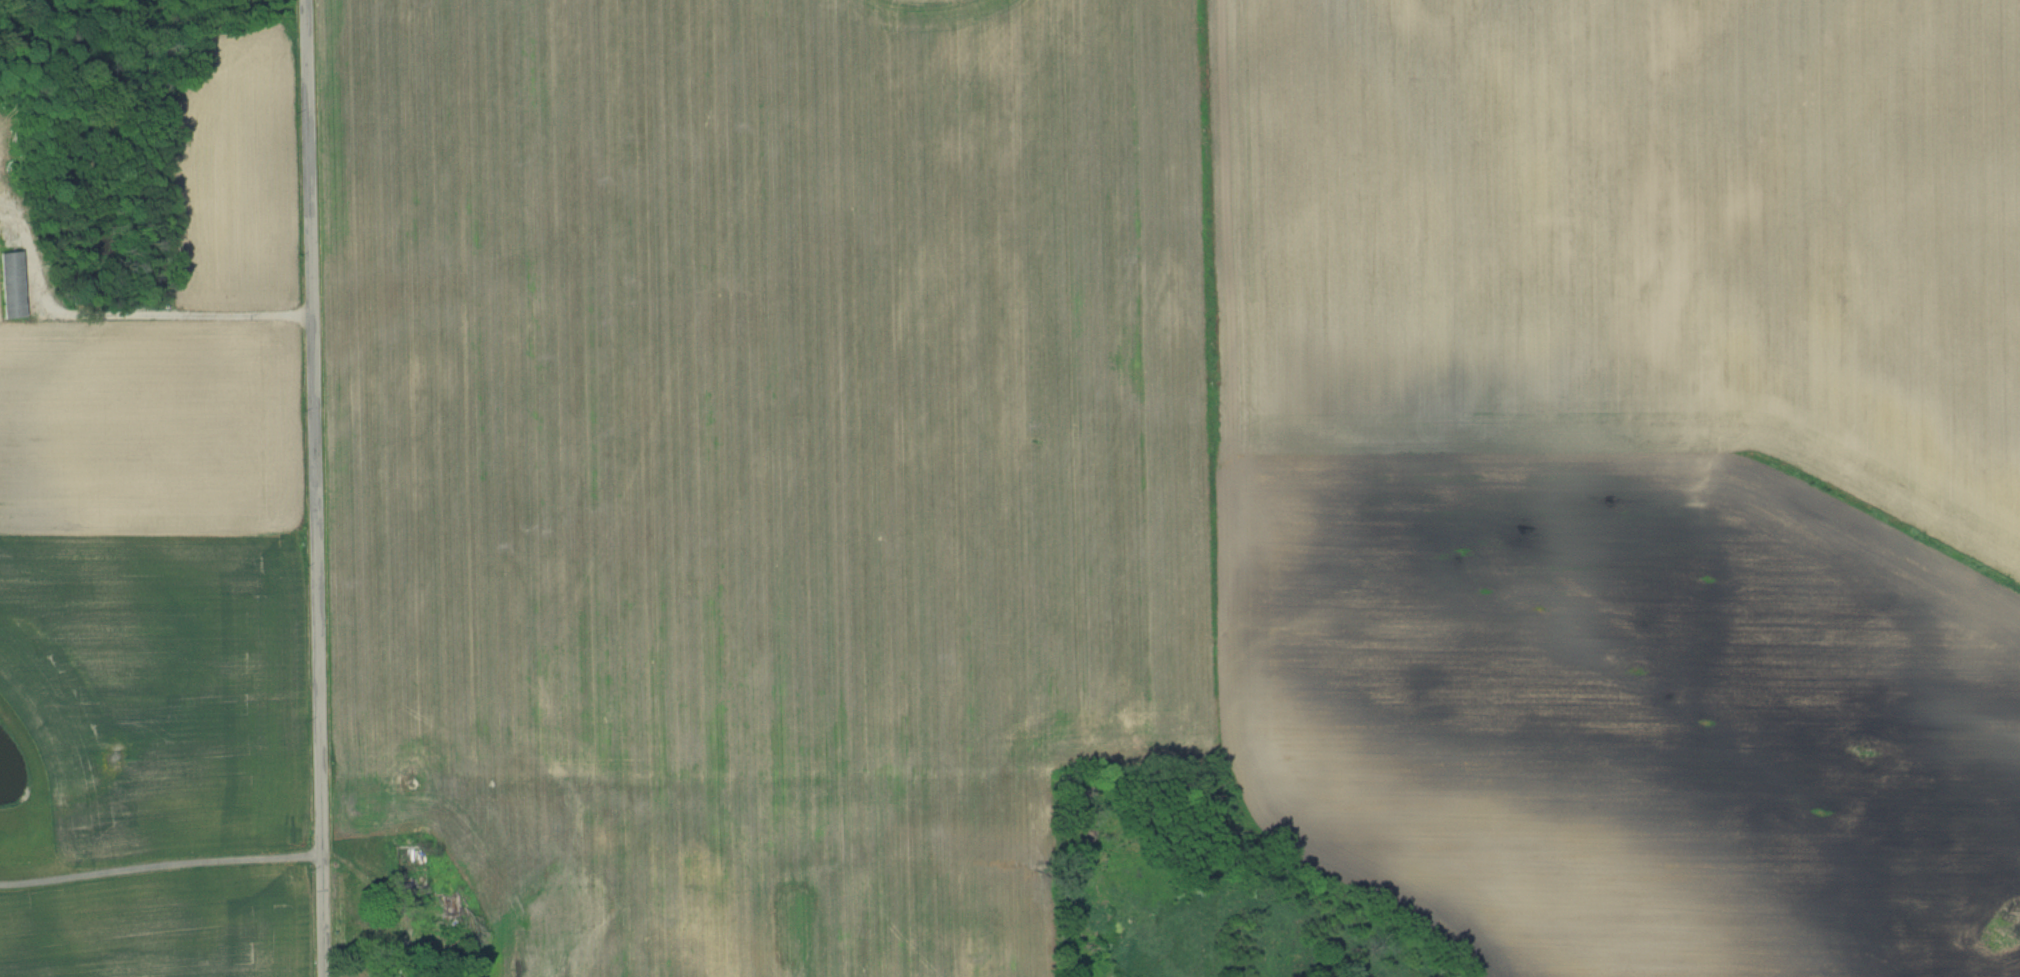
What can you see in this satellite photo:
building: (10, 287)
road: (149, 315)
road: (316, 488)
road: (161, 865)
building: (384, 976)

